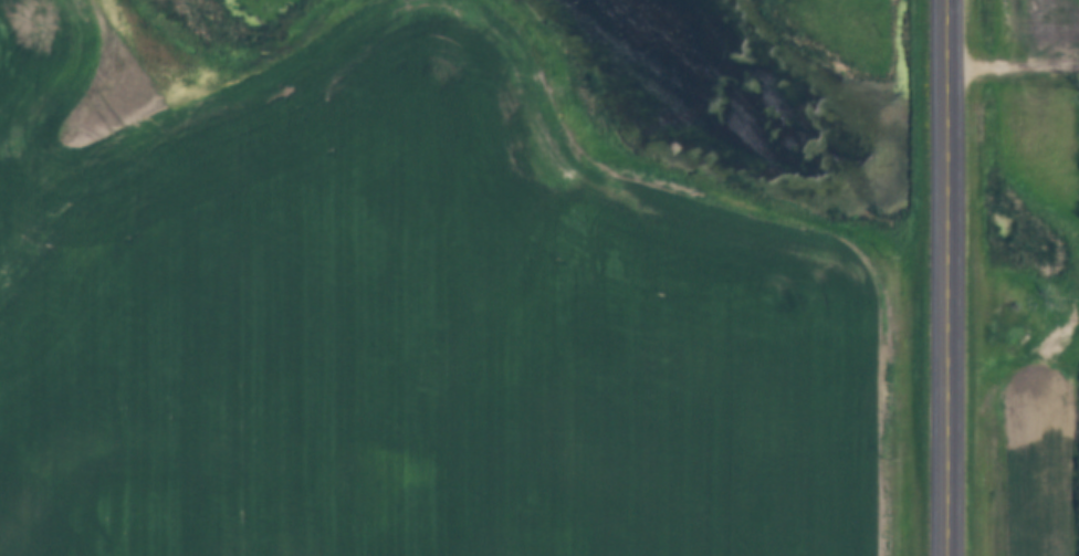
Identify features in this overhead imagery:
road: (946, 277)

